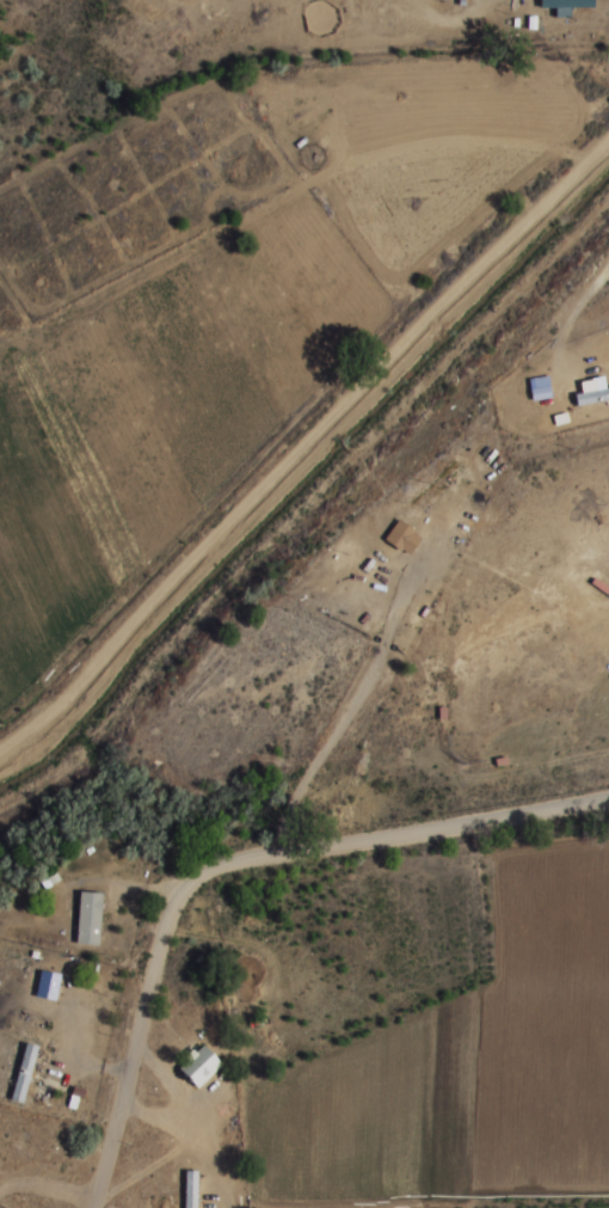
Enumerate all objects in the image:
building: (540, 386)
building: (591, 395)
road: (307, 447)
building: (404, 536)
road: (228, 860)
building: (88, 916)
building: (47, 983)
building: (199, 1065)
building: (24, 1072)
building: (190, 1189)
building: (21, 1204)

